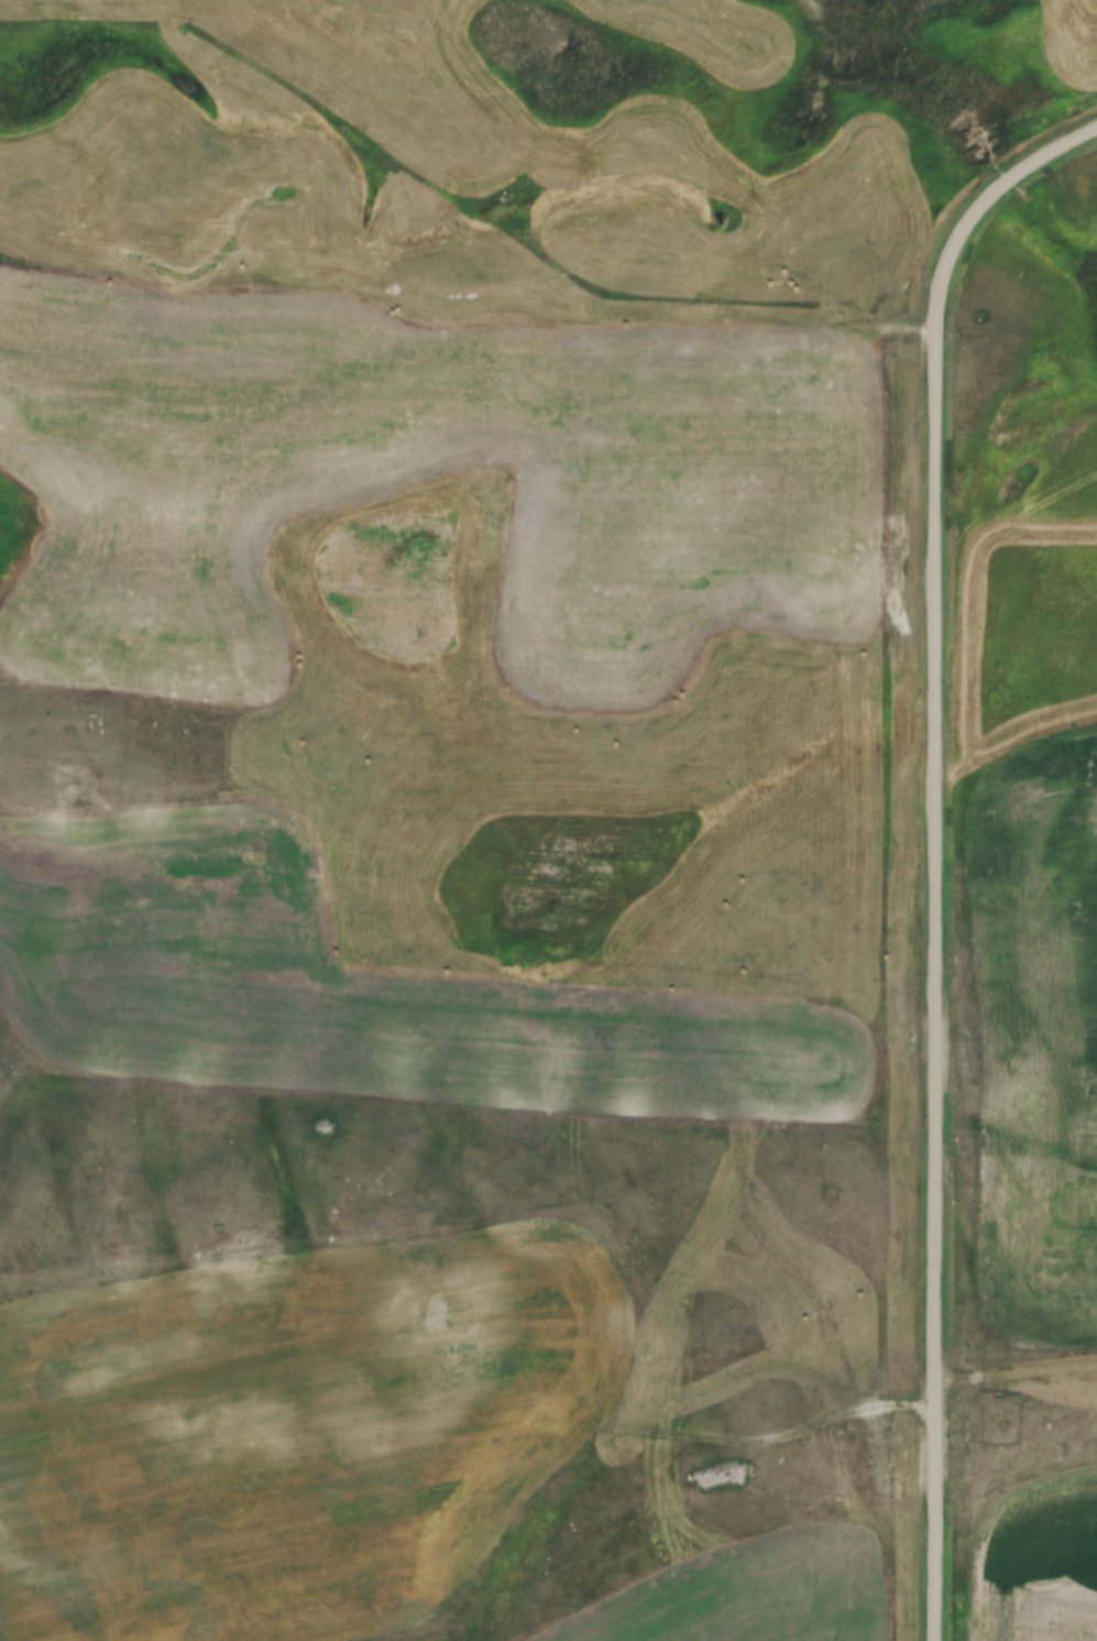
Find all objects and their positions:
road: (936, 849)

